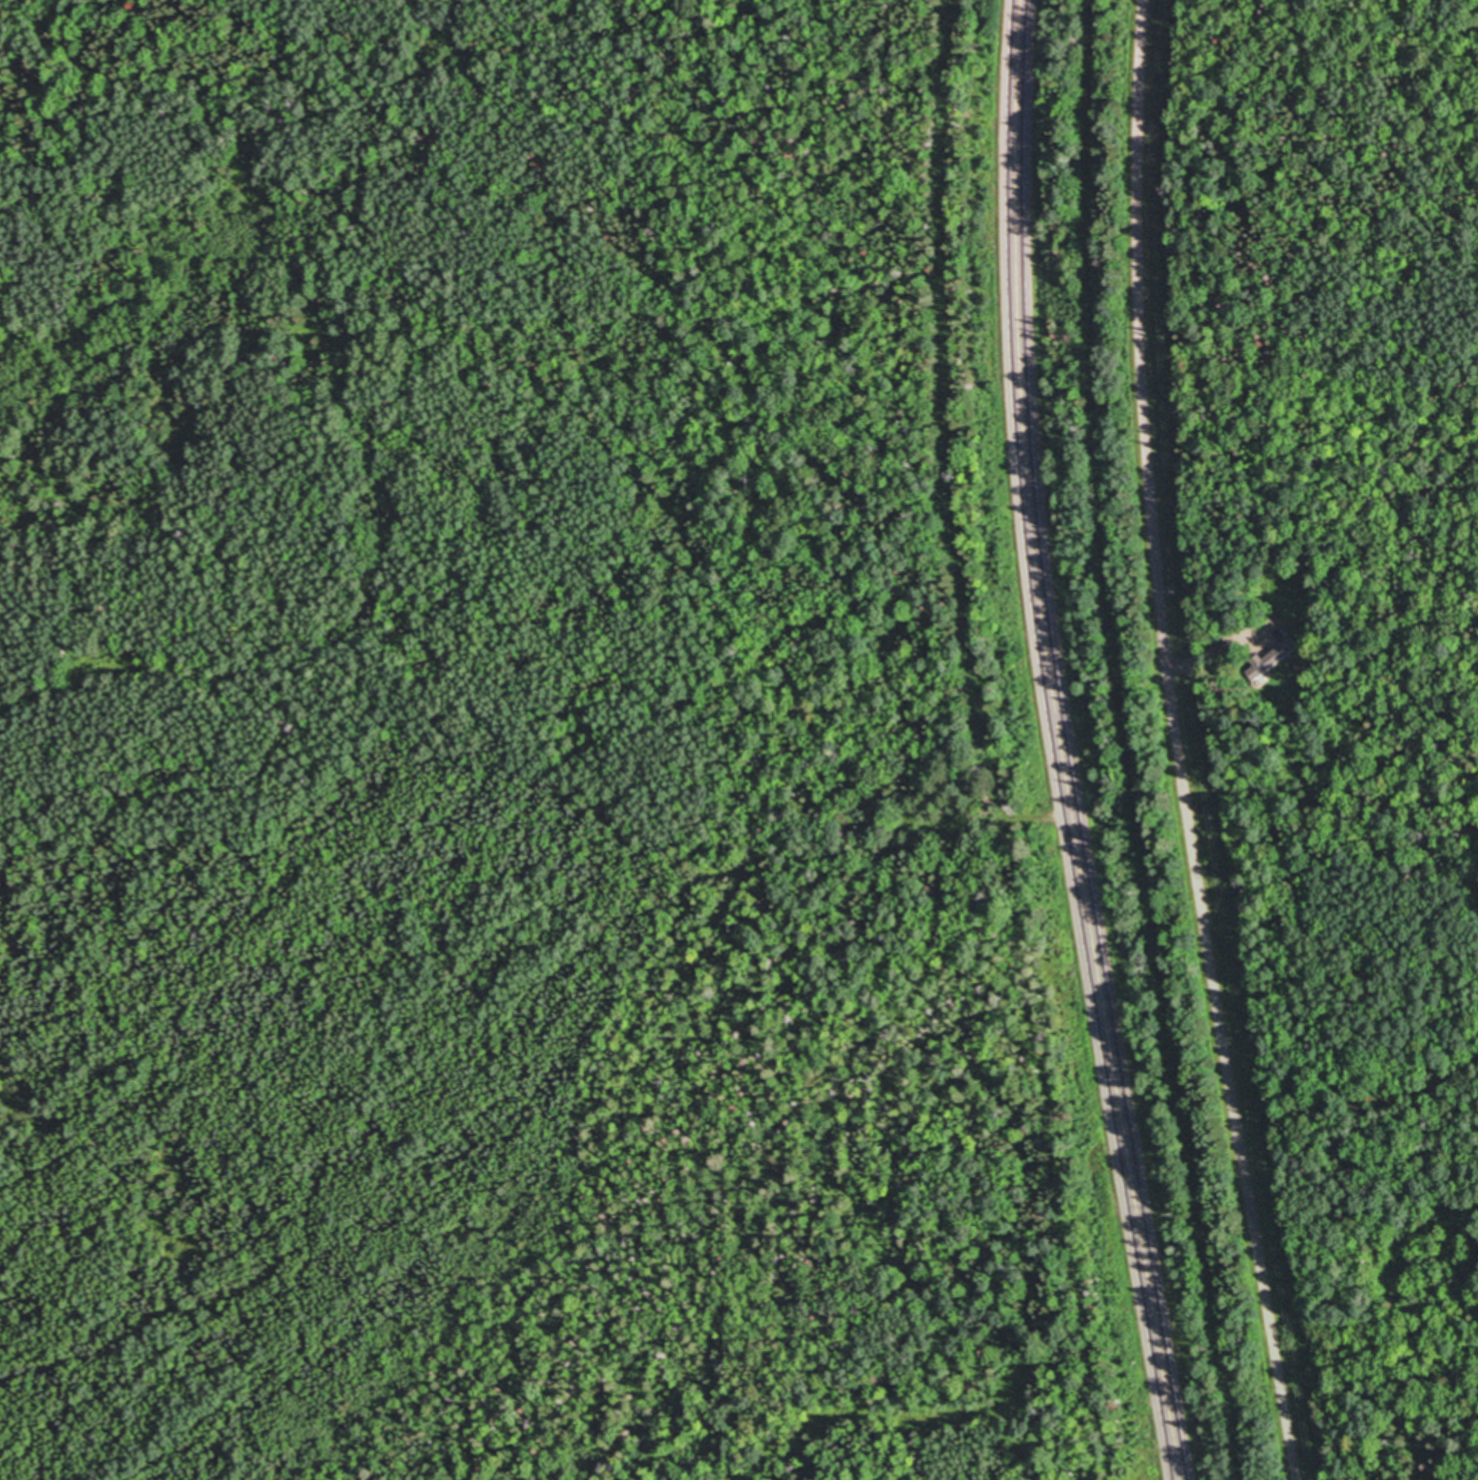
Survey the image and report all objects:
building: (1261, 666)
road: (1065, 743)
road: (1178, 744)
road: (1364, 1106)

